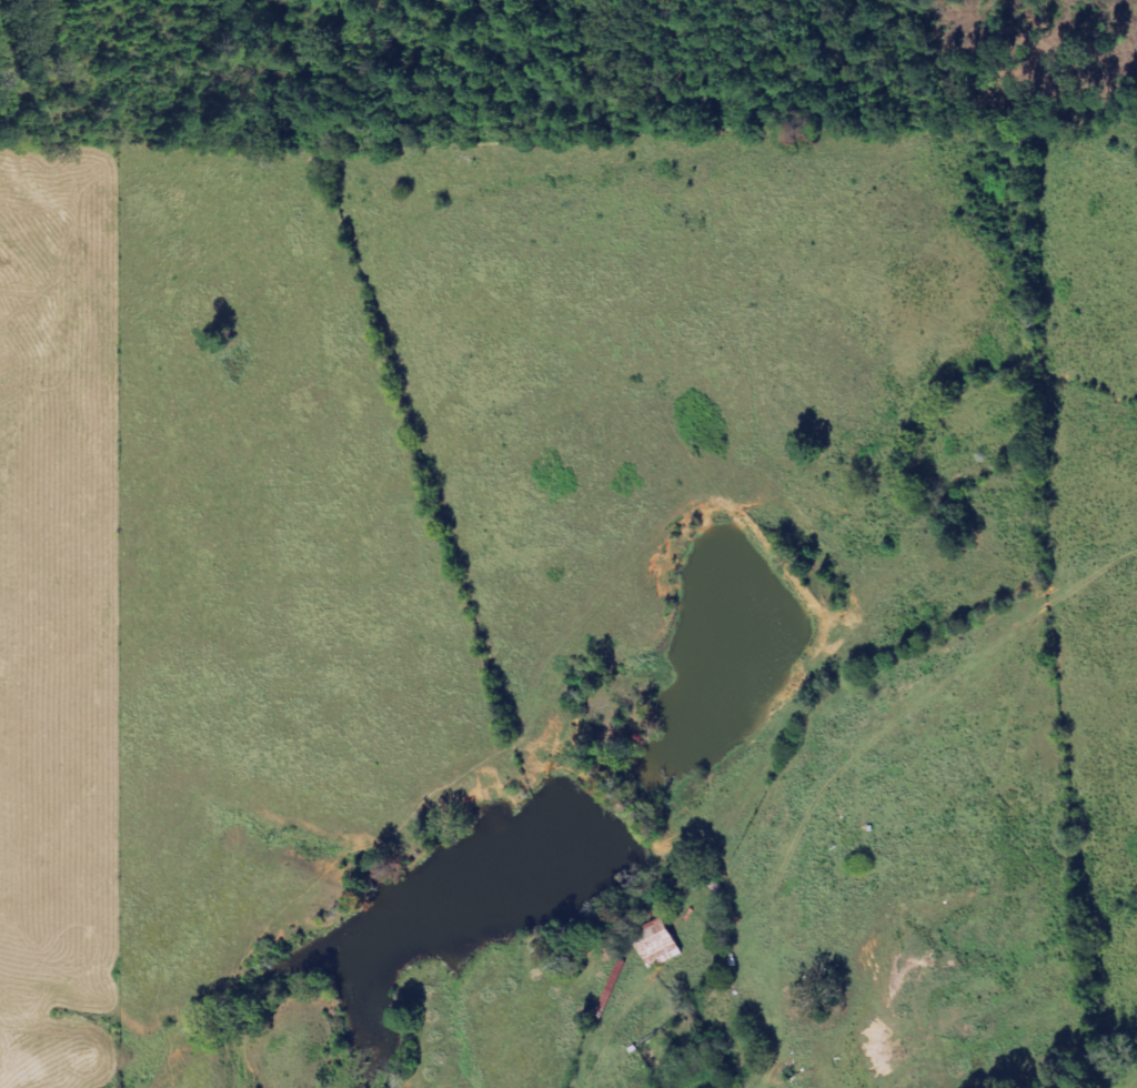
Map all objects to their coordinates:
building: (658, 945)

